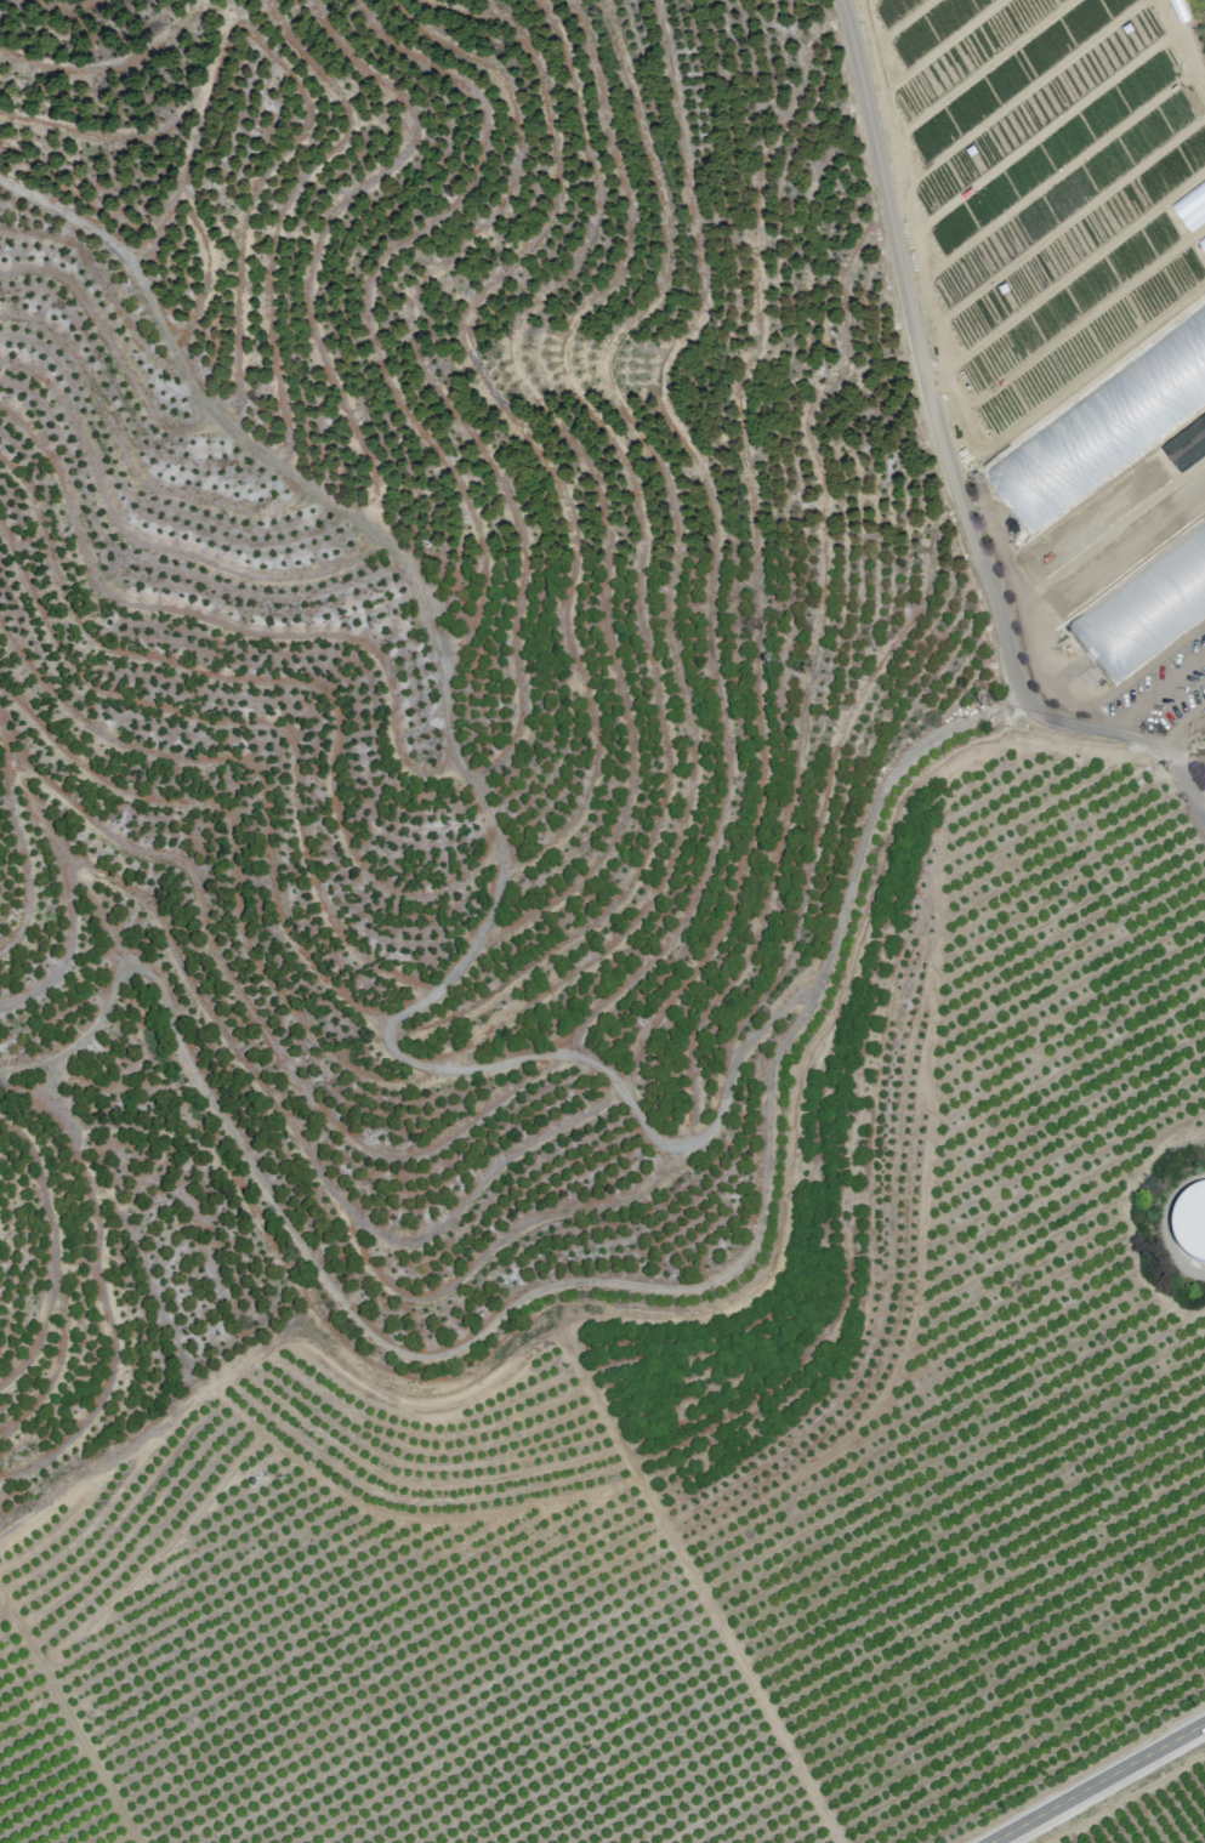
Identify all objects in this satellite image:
road: (951, 463)
road: (1158, 695)
road: (1184, 732)
road: (1203, 804)
building: (1188, 1223)
storage tank: (1189, 1223)
road: (1096, 1782)

